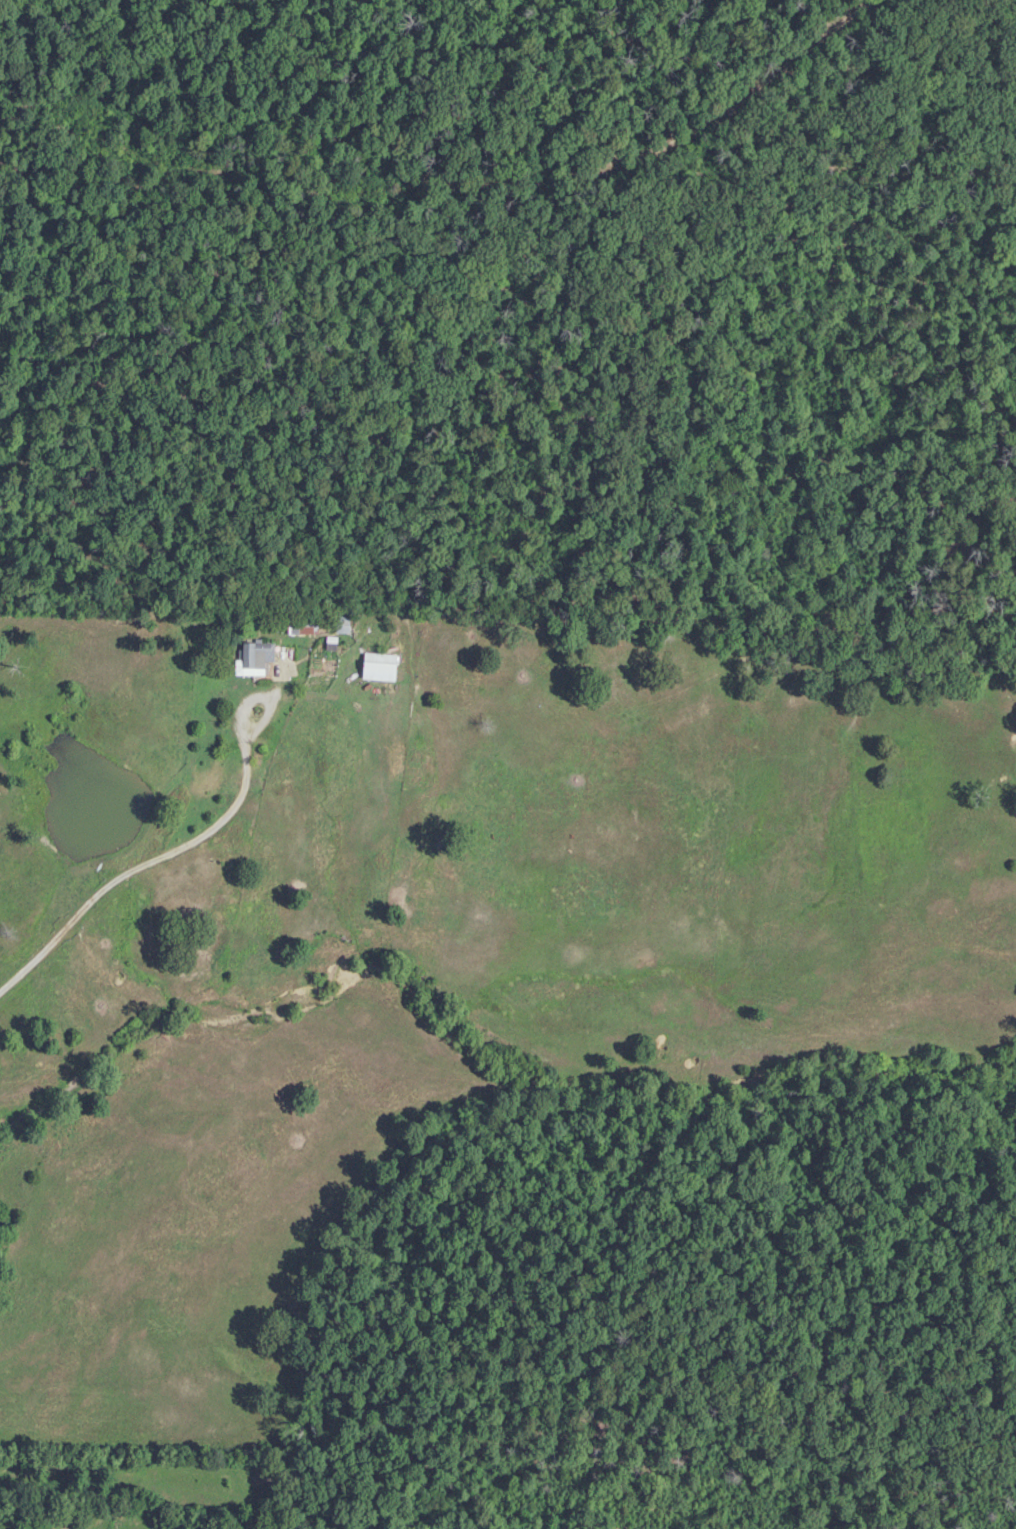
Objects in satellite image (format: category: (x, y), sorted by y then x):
road: (440, 167)
road: (808, 206)
road: (74, 500)
building: (341, 621)
building: (303, 627)
building: (255, 656)
building: (377, 667)
road: (201, 835)
road: (32, 959)
road: (513, 1077)
road: (741, 1472)

